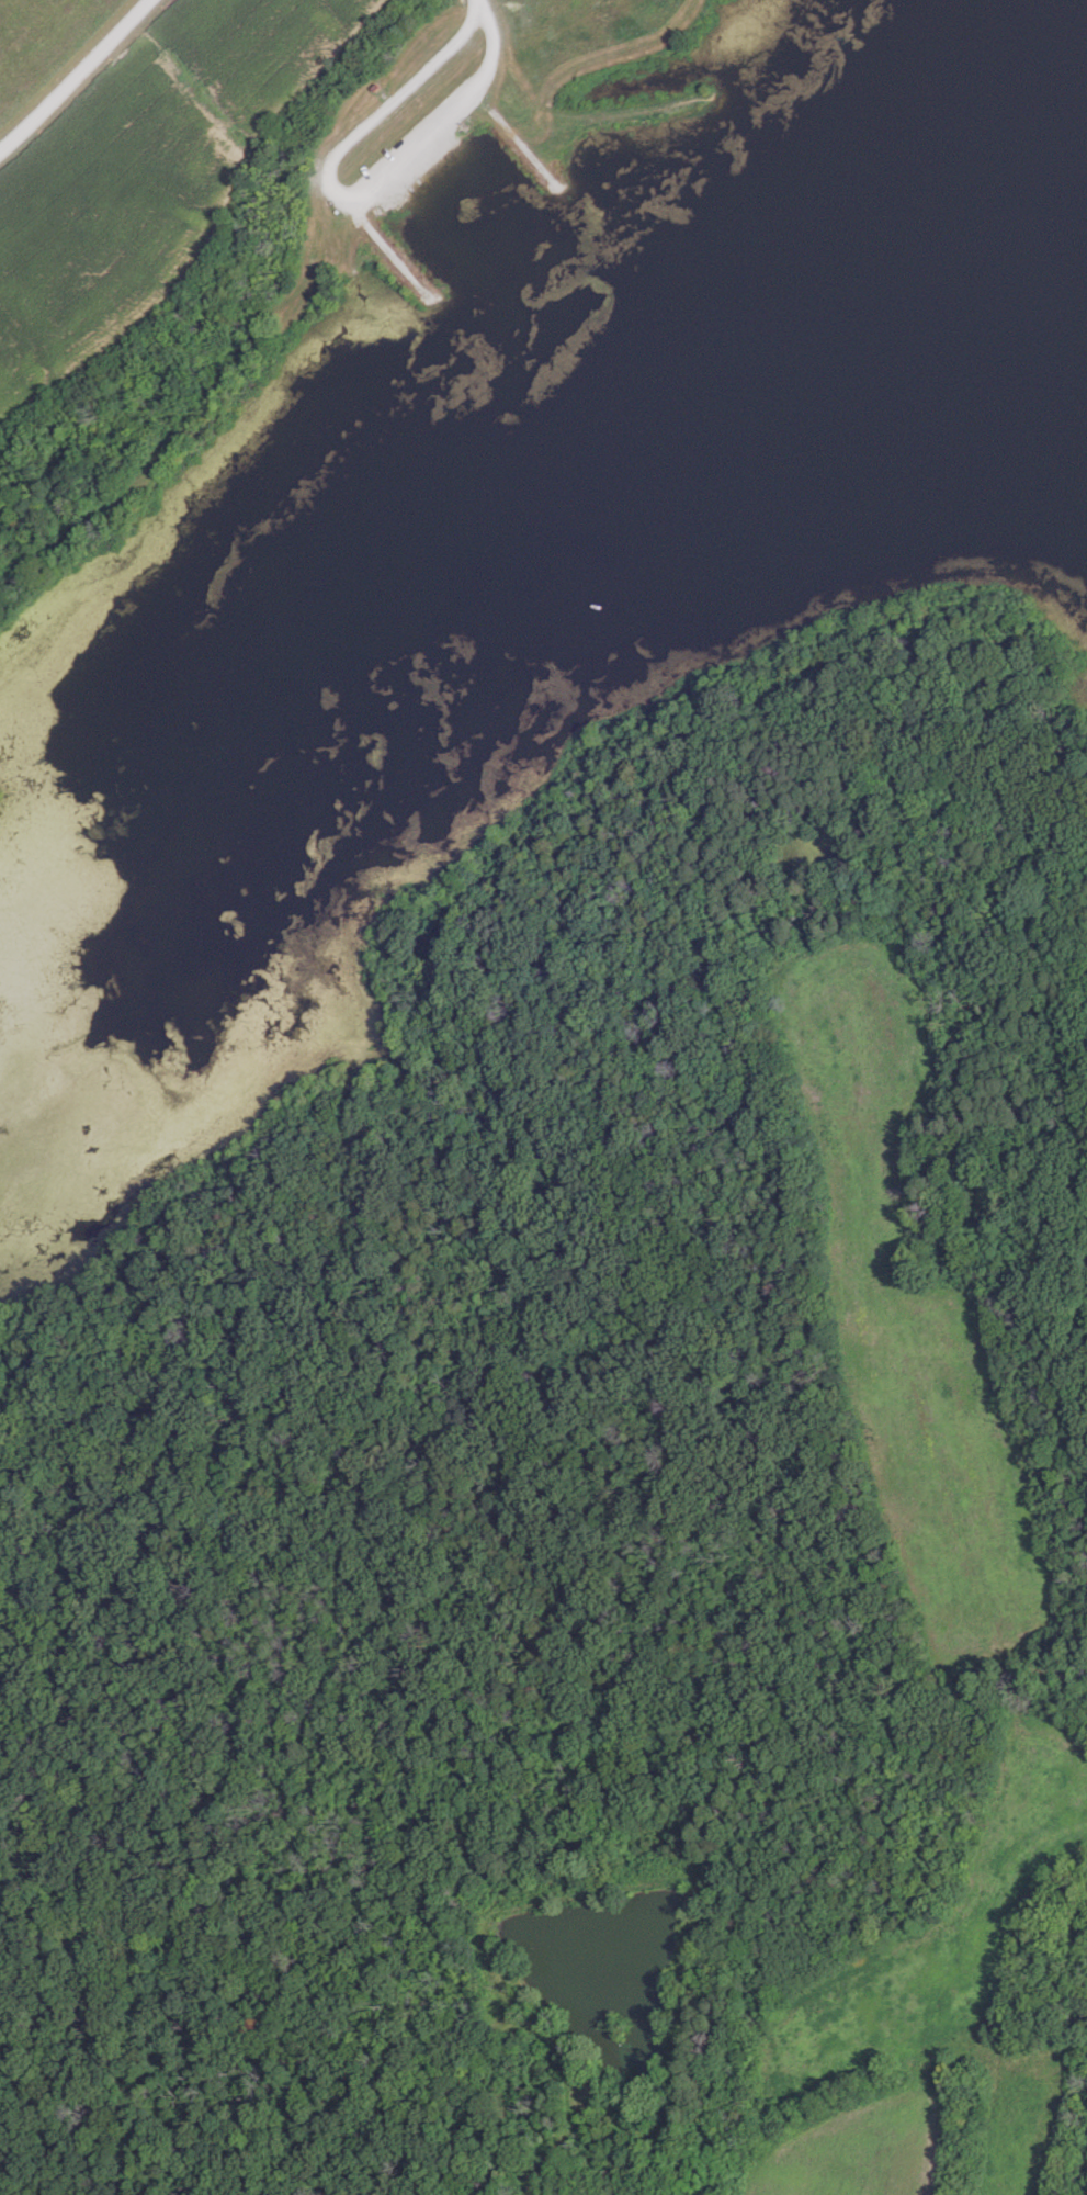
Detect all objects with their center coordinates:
road: (477, 8)
road: (70, 69)
road: (337, 195)

